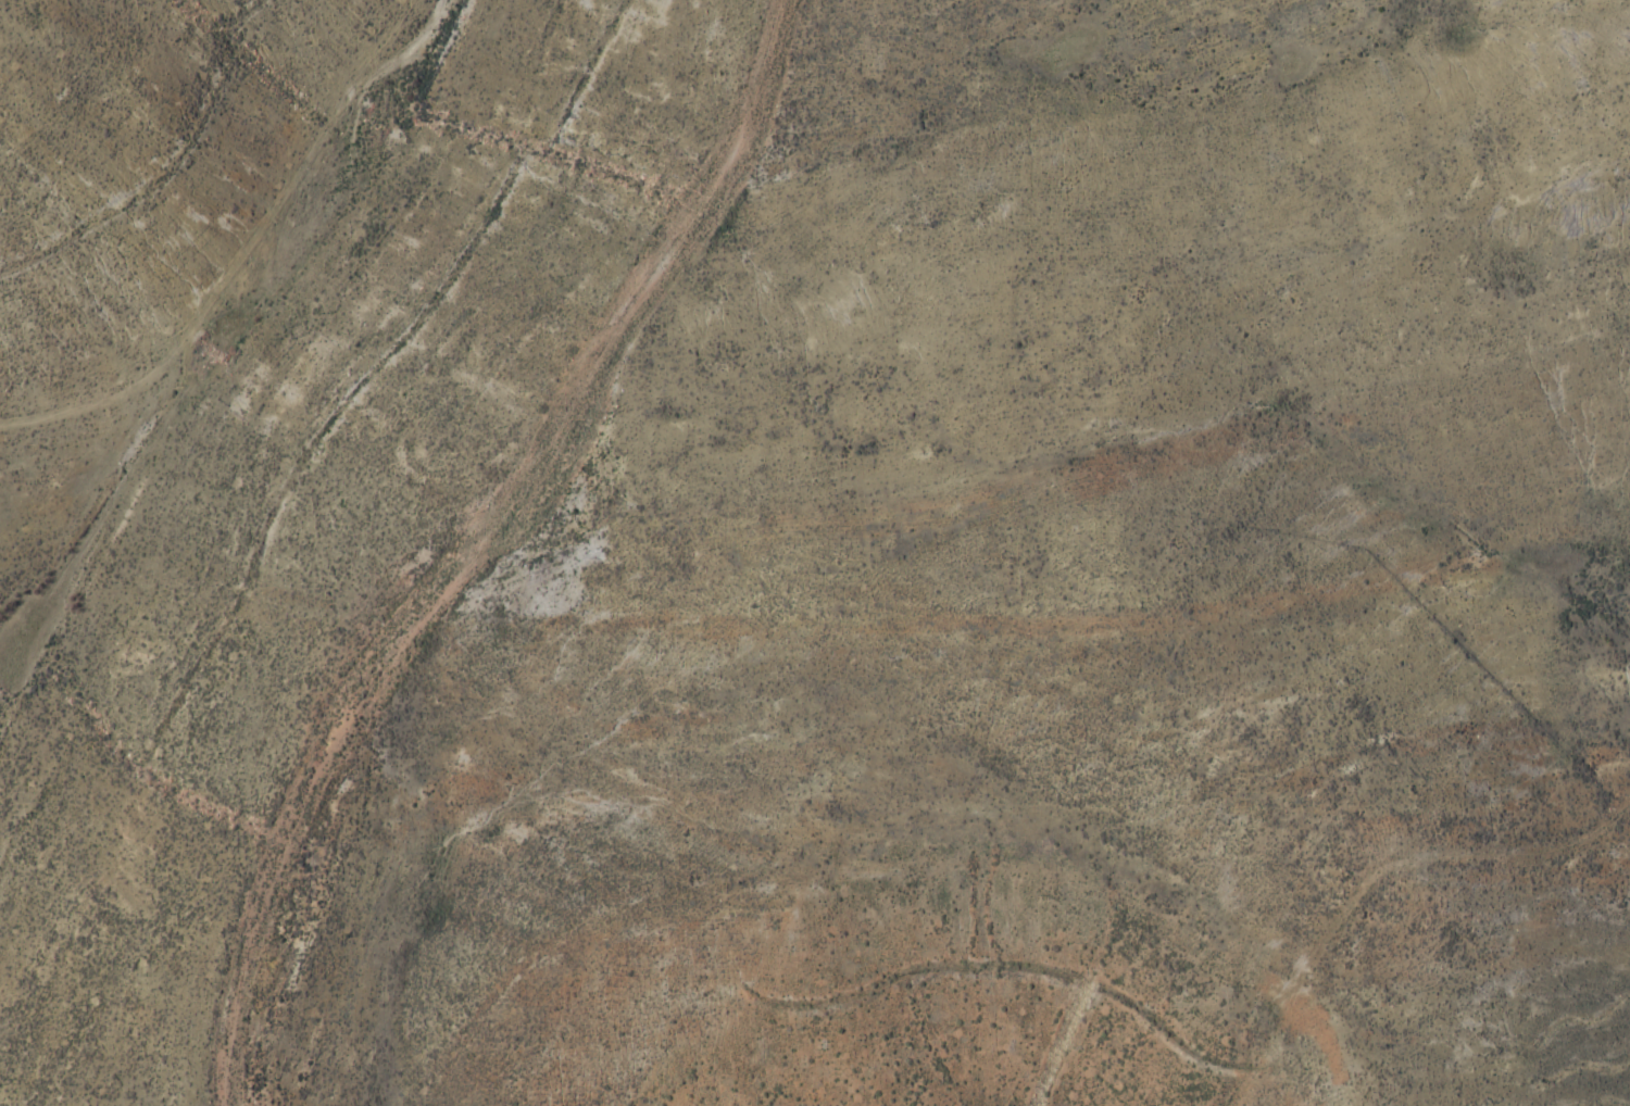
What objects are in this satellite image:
road: (716, 197)
road: (350, 709)

